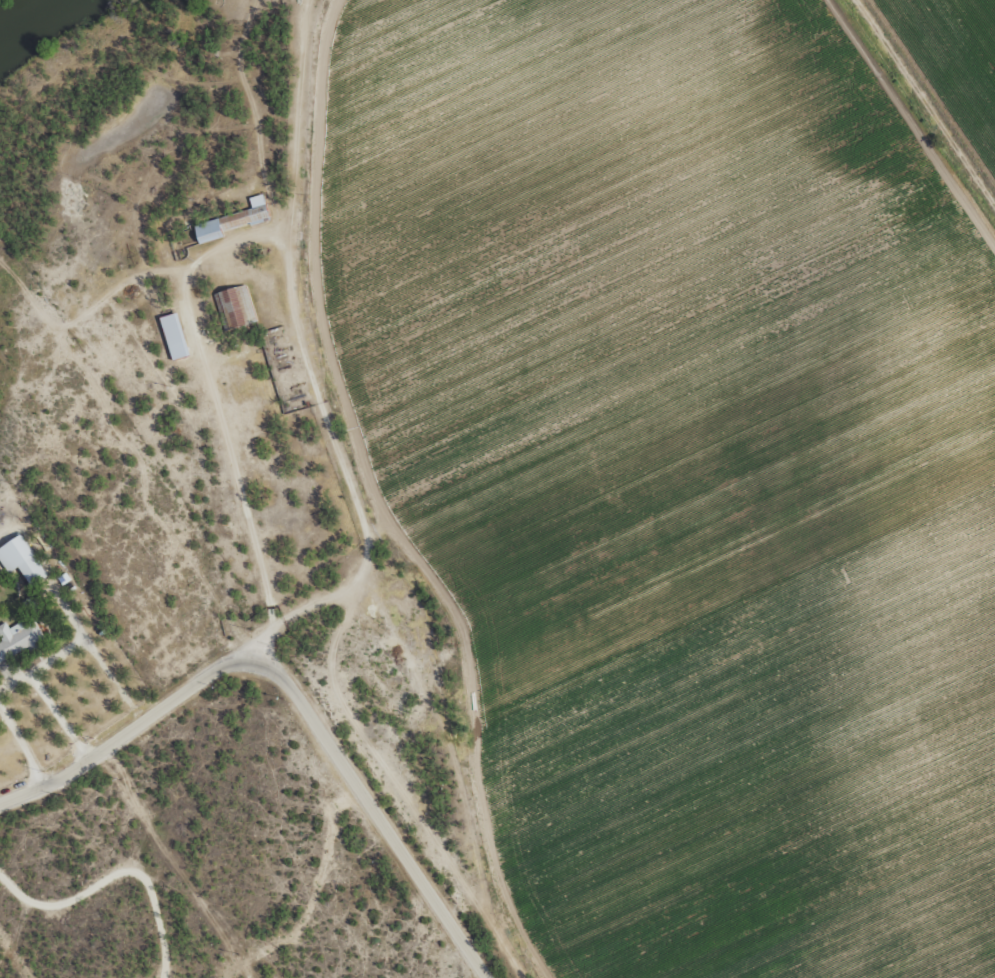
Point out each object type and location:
building: (233, 220)
road: (197, 235)
building: (234, 306)
building: (174, 335)
road: (213, 481)
building: (20, 558)
building: (18, 638)
road: (122, 736)
road: (377, 817)

